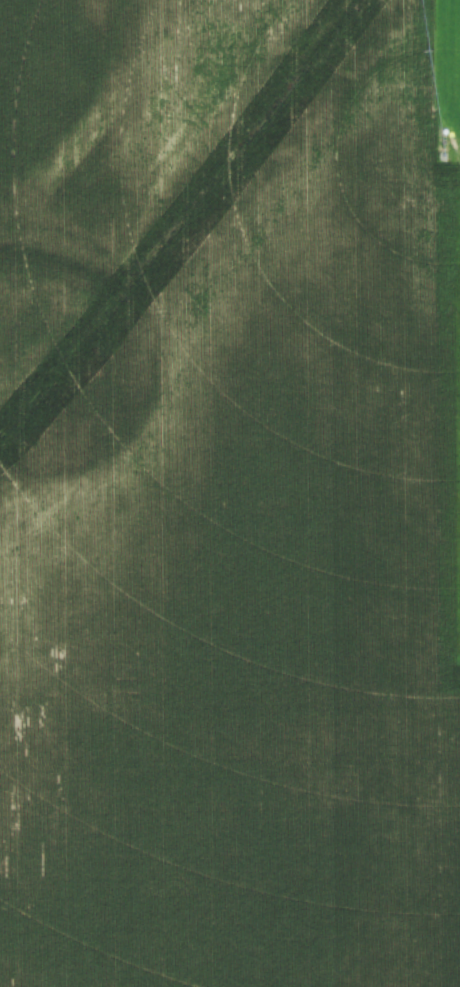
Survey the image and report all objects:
crop: (230, 493)

